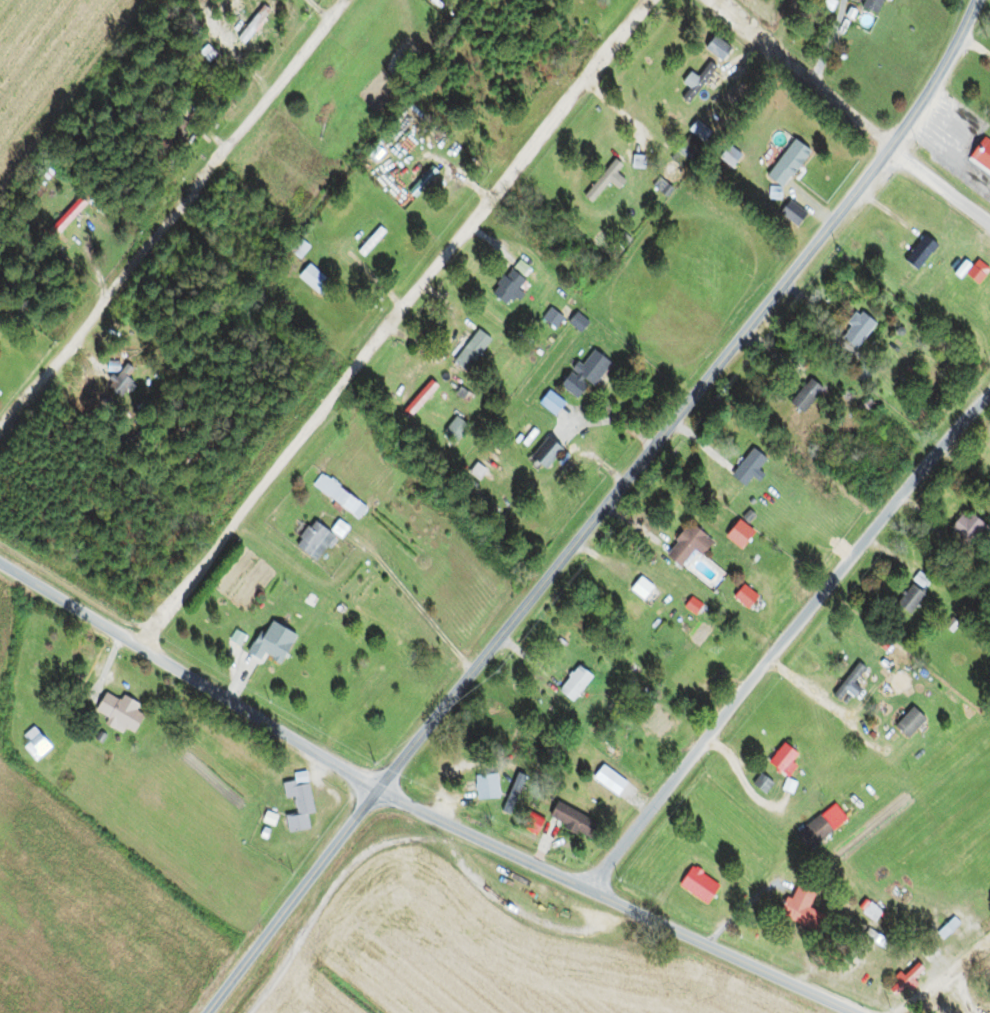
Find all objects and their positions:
building: (869, 6)
building: (714, 49)
road: (805, 73)
building: (694, 83)
building: (696, 131)
building: (169, 133)
building: (980, 157)
building: (677, 158)
building: (635, 163)
building: (599, 181)
building: (420, 183)
road: (940, 188)
road: (170, 218)
building: (70, 231)
building: (368, 243)
building: (917, 254)
building: (968, 272)
building: (311, 280)
building: (504, 287)
road: (391, 320)
building: (574, 323)
building: (854, 331)
building: (468, 351)
building: (580, 376)
building: (116, 384)
building: (460, 390)
building: (802, 396)
building: (548, 403)
building: (452, 430)
building: (544, 456)
building: (745, 469)
building: (336, 497)
road: (600, 511)
building: (963, 532)
building: (735, 535)
building: (315, 541)
building: (684, 547)
building: (909, 594)
building: (742, 598)
road: (786, 638)
building: (269, 643)
building: (847, 683)
building: (573, 684)
building: (116, 712)
building: (906, 722)
building: (33, 744)
building: (912, 757)
building: (782, 758)
building: (760, 784)
building: (483, 786)
building: (512, 792)
building: (295, 802)
road: (416, 808)
building: (569, 820)
building: (526, 823)
building: (811, 832)
building: (696, 885)
building: (799, 909)
building: (870, 912)
building: (911, 972)
road: (944, 978)

